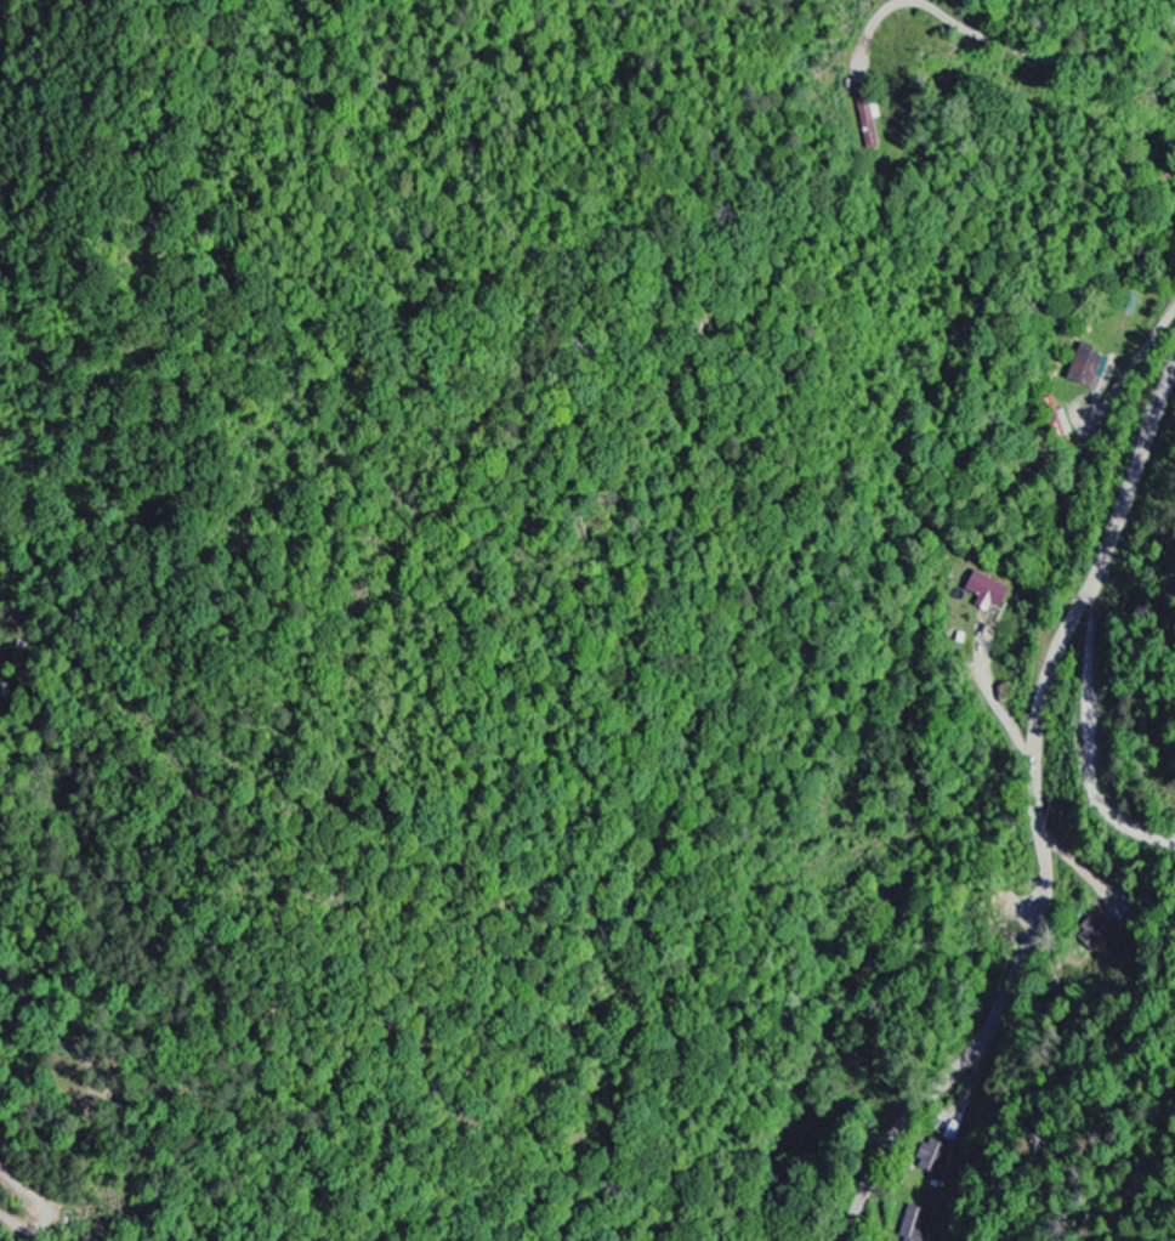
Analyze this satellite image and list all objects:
road: (1004, 44)
building: (868, 126)
road: (1133, 362)
building: (1088, 370)
building: (984, 591)
road: (1039, 821)
building: (930, 1156)

